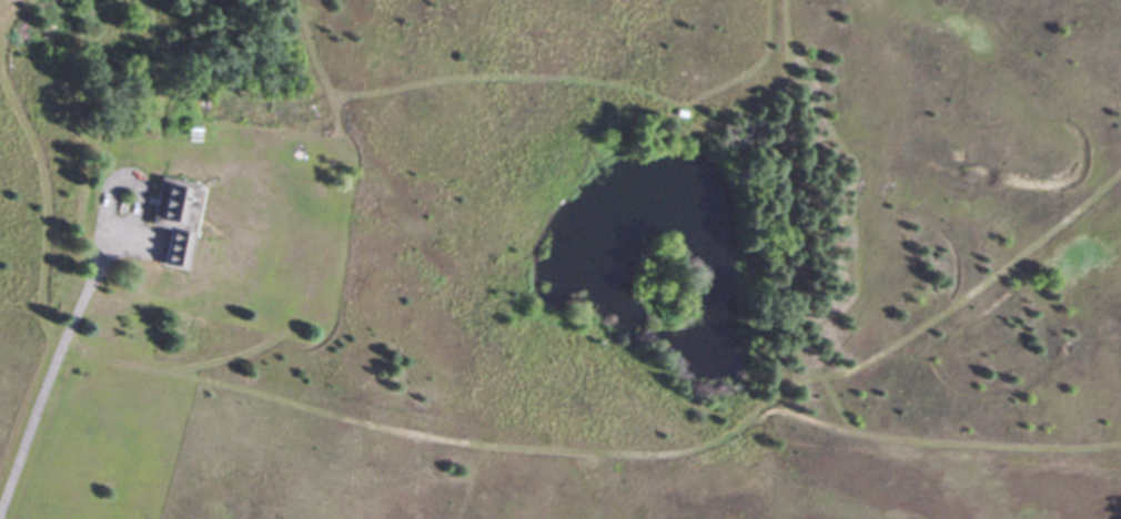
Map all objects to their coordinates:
building: (169, 215)
road: (55, 350)

